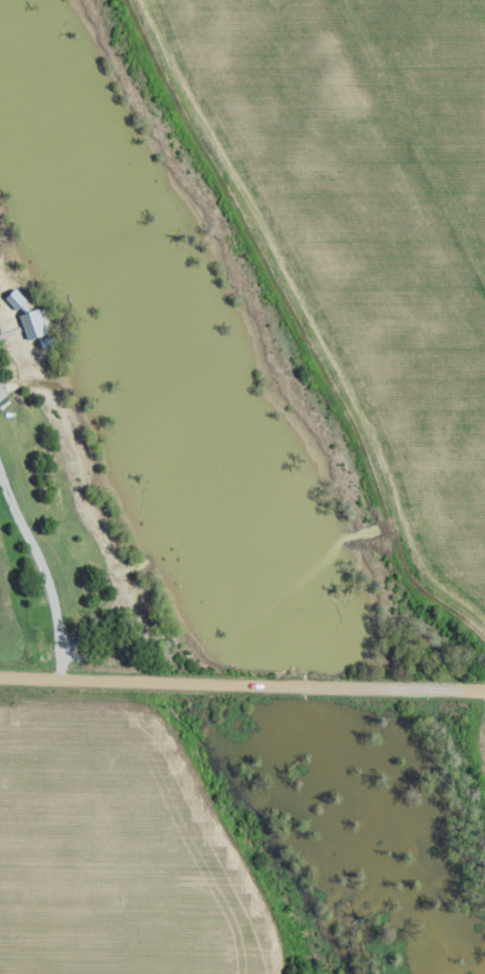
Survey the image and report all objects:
building: (77, 607)
road: (242, 686)

